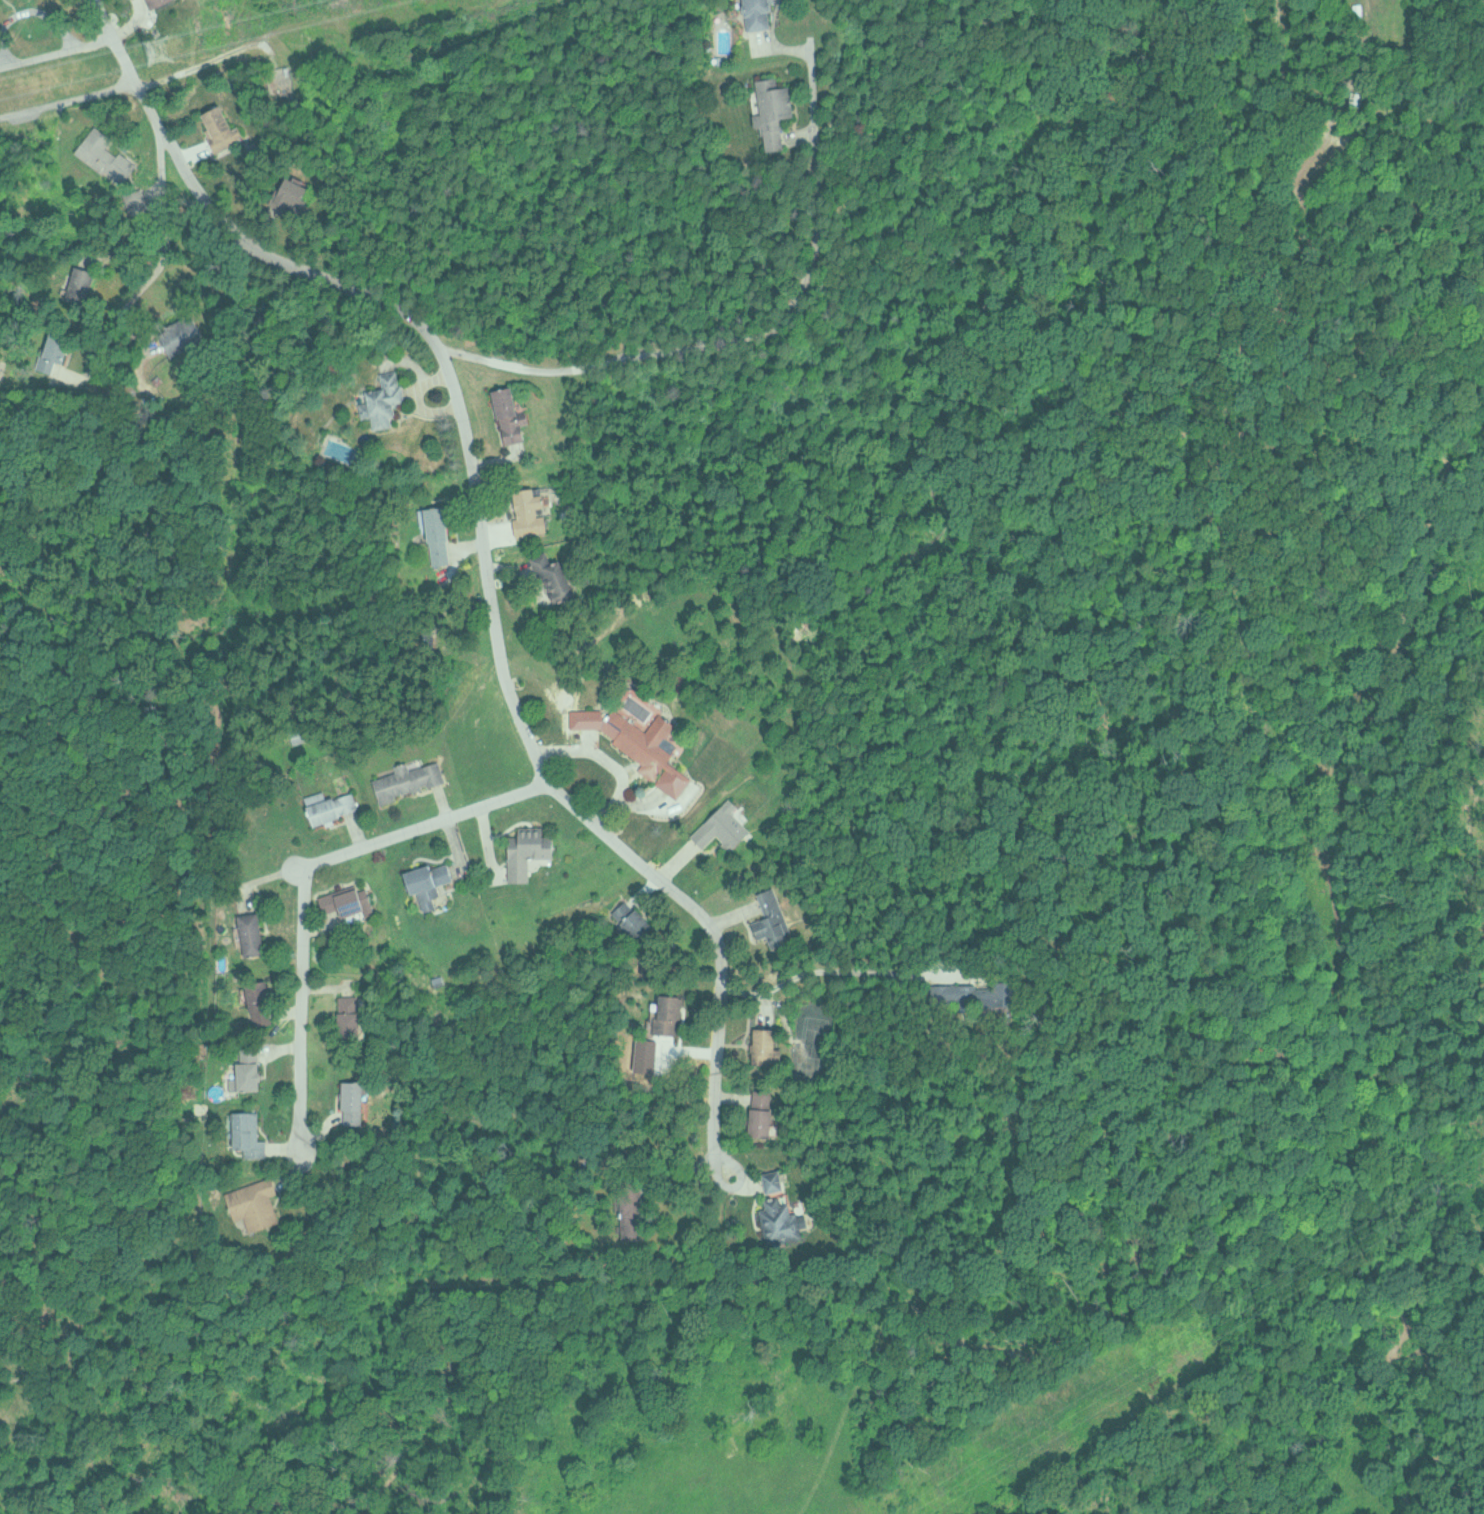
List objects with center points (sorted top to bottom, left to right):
building: (161, 2)
building: (759, 14)
power tower: (157, 50)
road: (55, 51)
road: (69, 101)
building: (774, 110)
building: (220, 127)
building: (104, 155)
road: (222, 215)
road: (160, 254)
road: (748, 332)
building: (180, 335)
building: (382, 400)
building: (512, 415)
building: (531, 512)
building: (439, 535)
building: (553, 578)
building: (643, 739)
building: (409, 780)
road: (552, 787)
building: (335, 808)
building: (724, 827)
building: (530, 852)
road: (298, 871)
building: (430, 883)
building: (348, 901)
building: (630, 919)
building: (771, 919)
building: (249, 933)
building: (972, 993)
building: (258, 1000)
building: (668, 1011)
building: (347, 1014)
building: (767, 1043)
building: (250, 1075)
building: (352, 1100)
building: (763, 1111)
building: (248, 1134)
building: (773, 1180)
building: (255, 1203)
building: (778, 1220)

